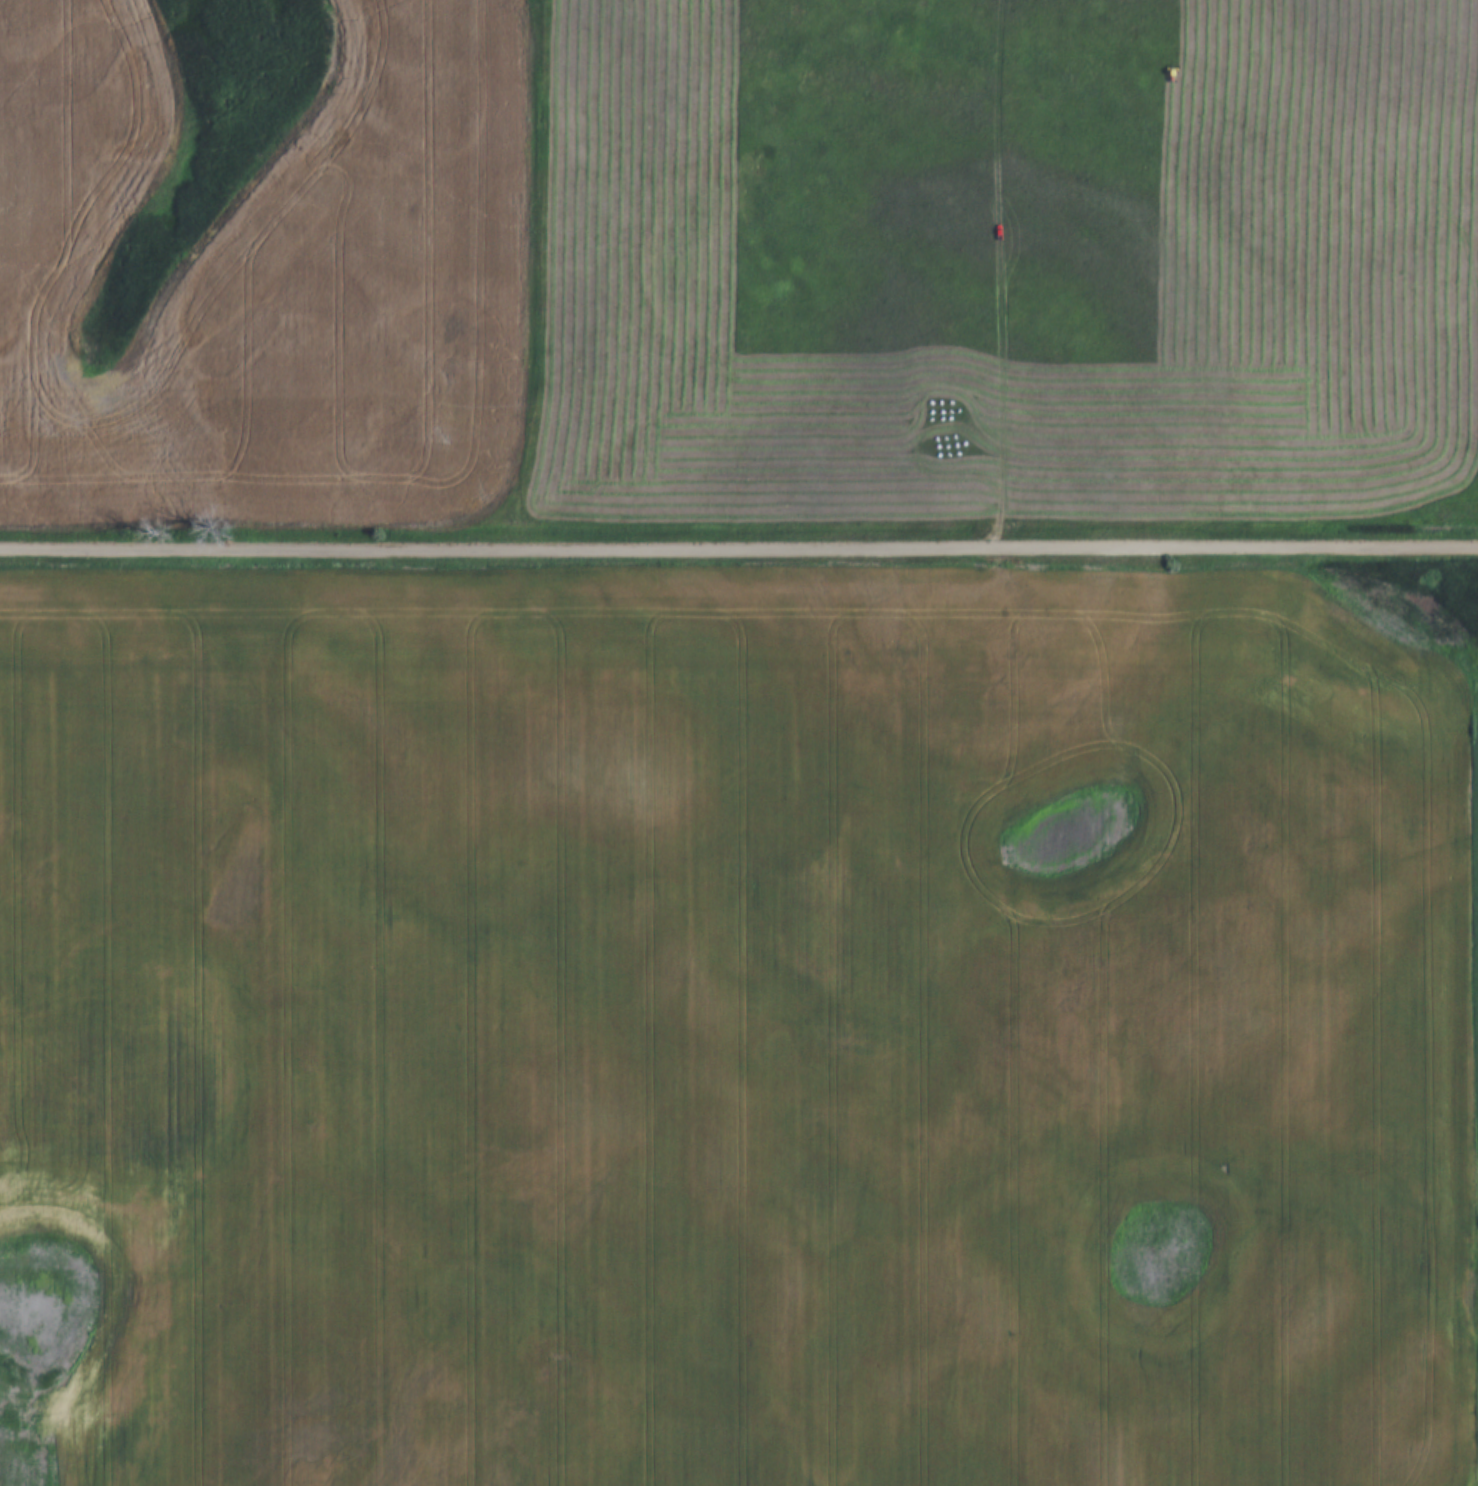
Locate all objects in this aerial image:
road: (1003, 273)
road: (739, 547)

